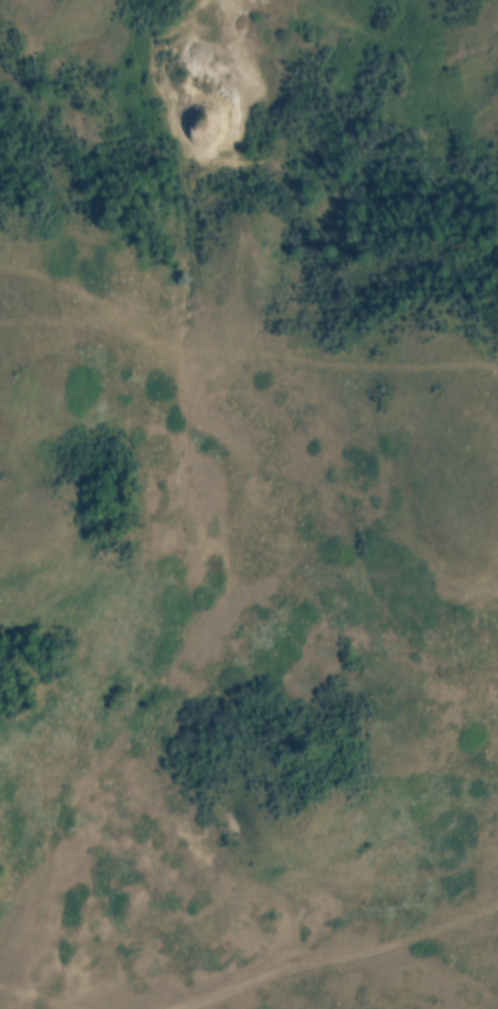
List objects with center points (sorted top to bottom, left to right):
road: (325, 951)
road: (33, 993)

